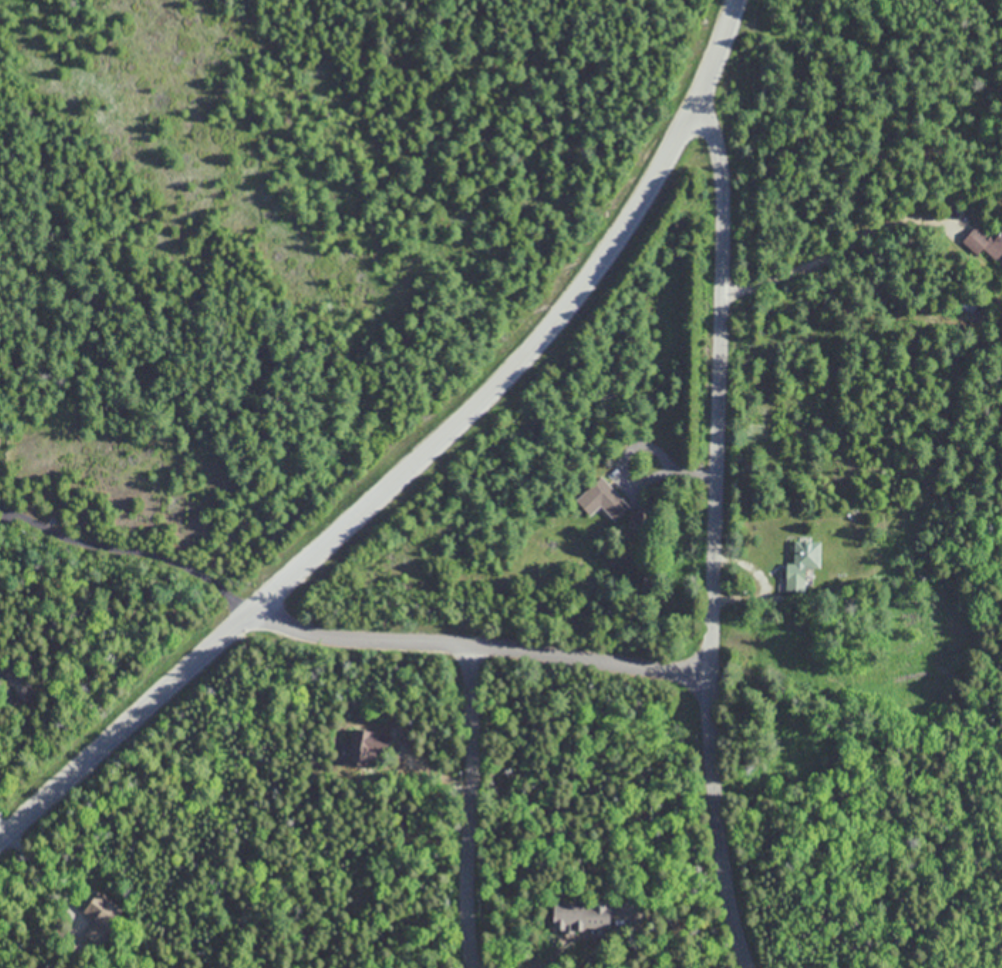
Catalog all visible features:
building: (984, 242)
road: (836, 249)
road: (631, 444)
road: (419, 461)
building: (601, 500)
road: (713, 538)
road: (131, 559)
building: (801, 563)
road: (762, 581)
road: (481, 649)
building: (21, 688)
building: (364, 746)
road: (471, 808)
building: (103, 910)
building: (580, 915)

